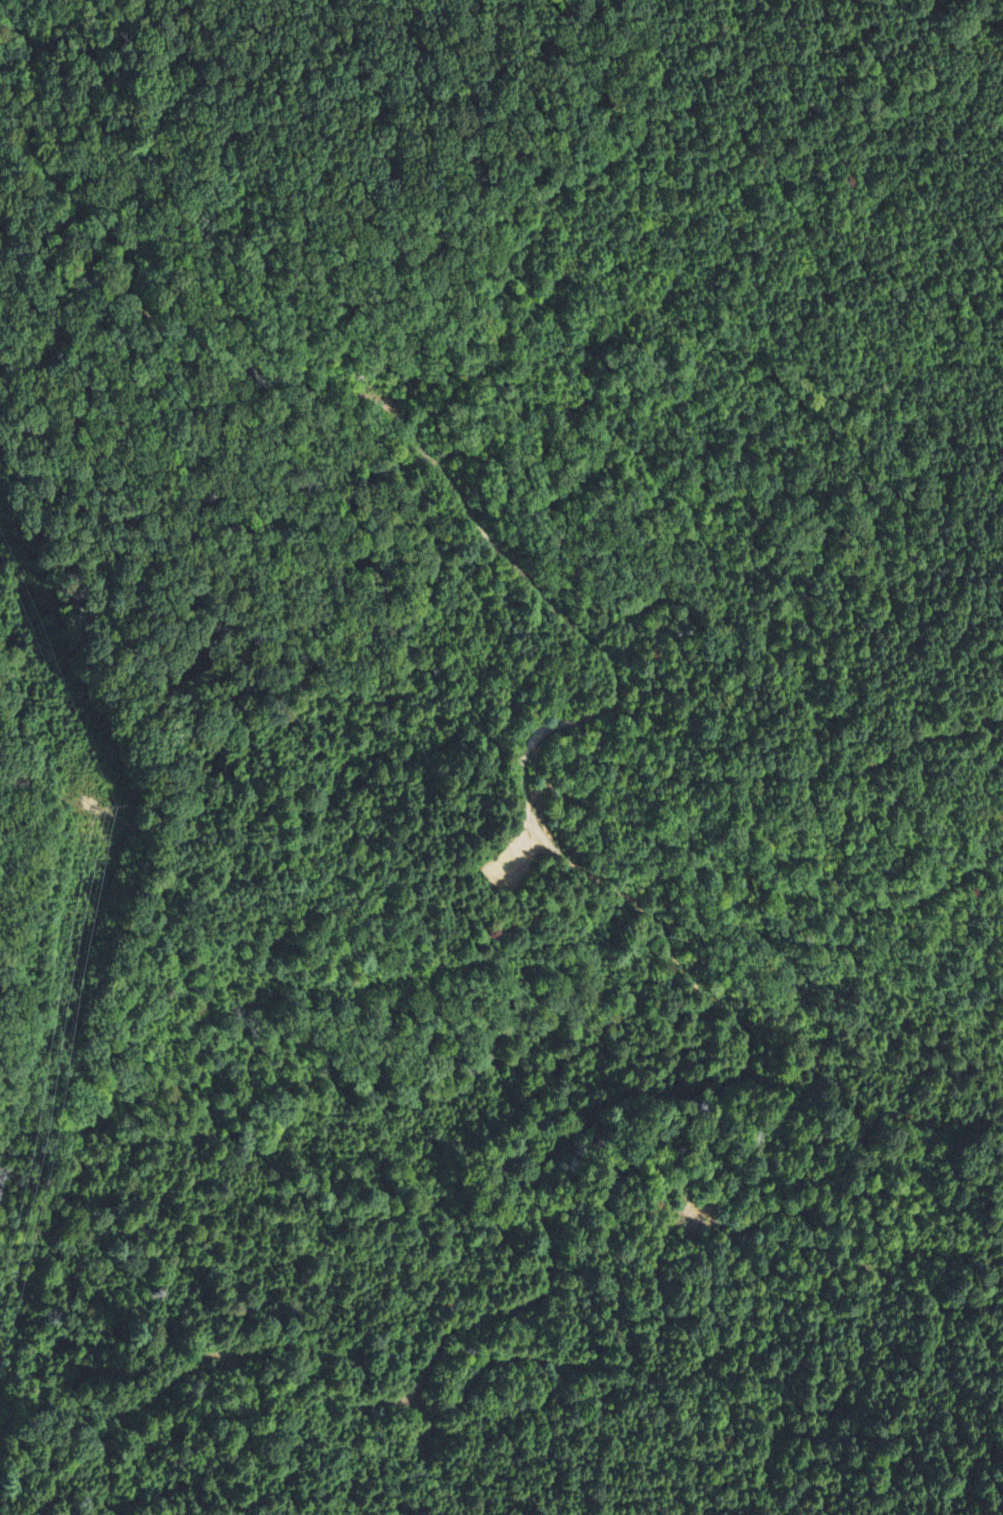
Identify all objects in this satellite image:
road: (128, 303)
power tower: (106, 803)
power tower: (26, 1140)

